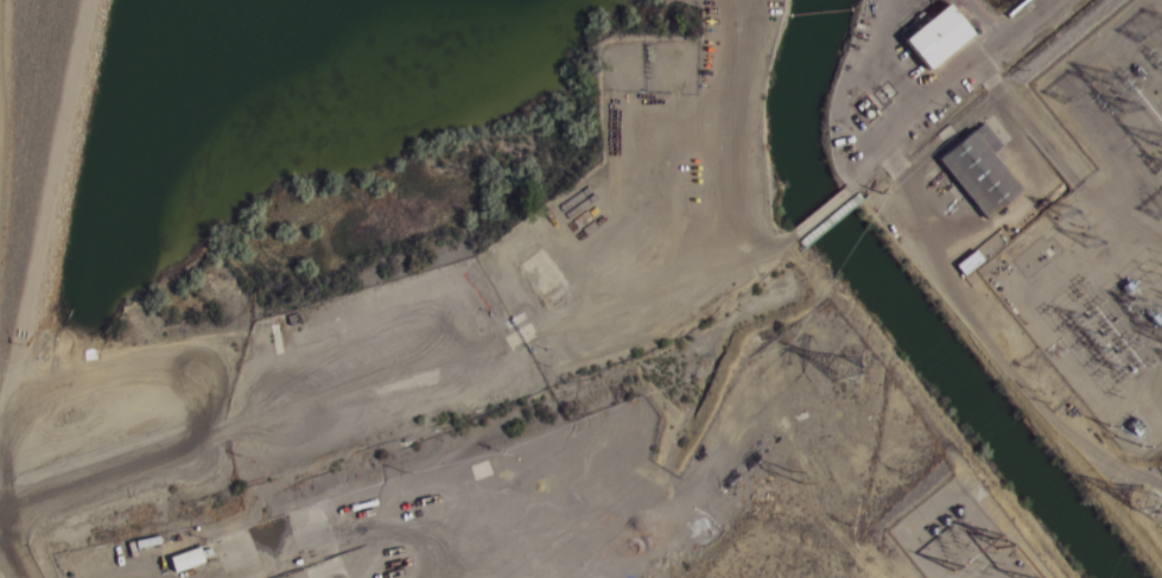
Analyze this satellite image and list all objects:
building: (927, 37)
road: (5, 83)
building: (966, 173)
dam: (101, 205)
power substation: (1099, 210)
power plant: (1024, 216)
road: (64, 241)
building: (310, 335)
power tower: (845, 360)
road: (204, 433)
power tower: (802, 466)
power plant: (725, 474)
road: (17, 483)
power substation: (961, 536)

